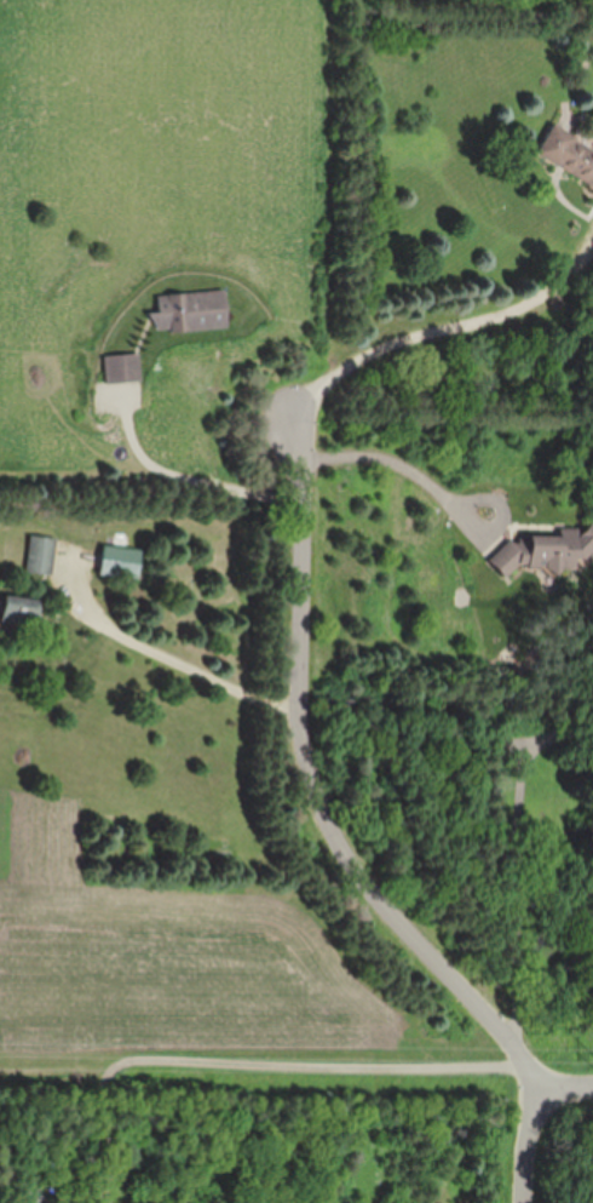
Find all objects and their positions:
building: (568, 153)
building: (190, 310)
road: (438, 333)
building: (121, 367)
road: (410, 466)
road: (195, 482)
building: (540, 551)
building: (41, 554)
building: (121, 562)
building: (19, 611)
road: (180, 666)
road: (319, 781)
road: (523, 852)
road: (259, 1058)
road: (535, 1071)
road: (564, 1081)
road: (534, 1142)

